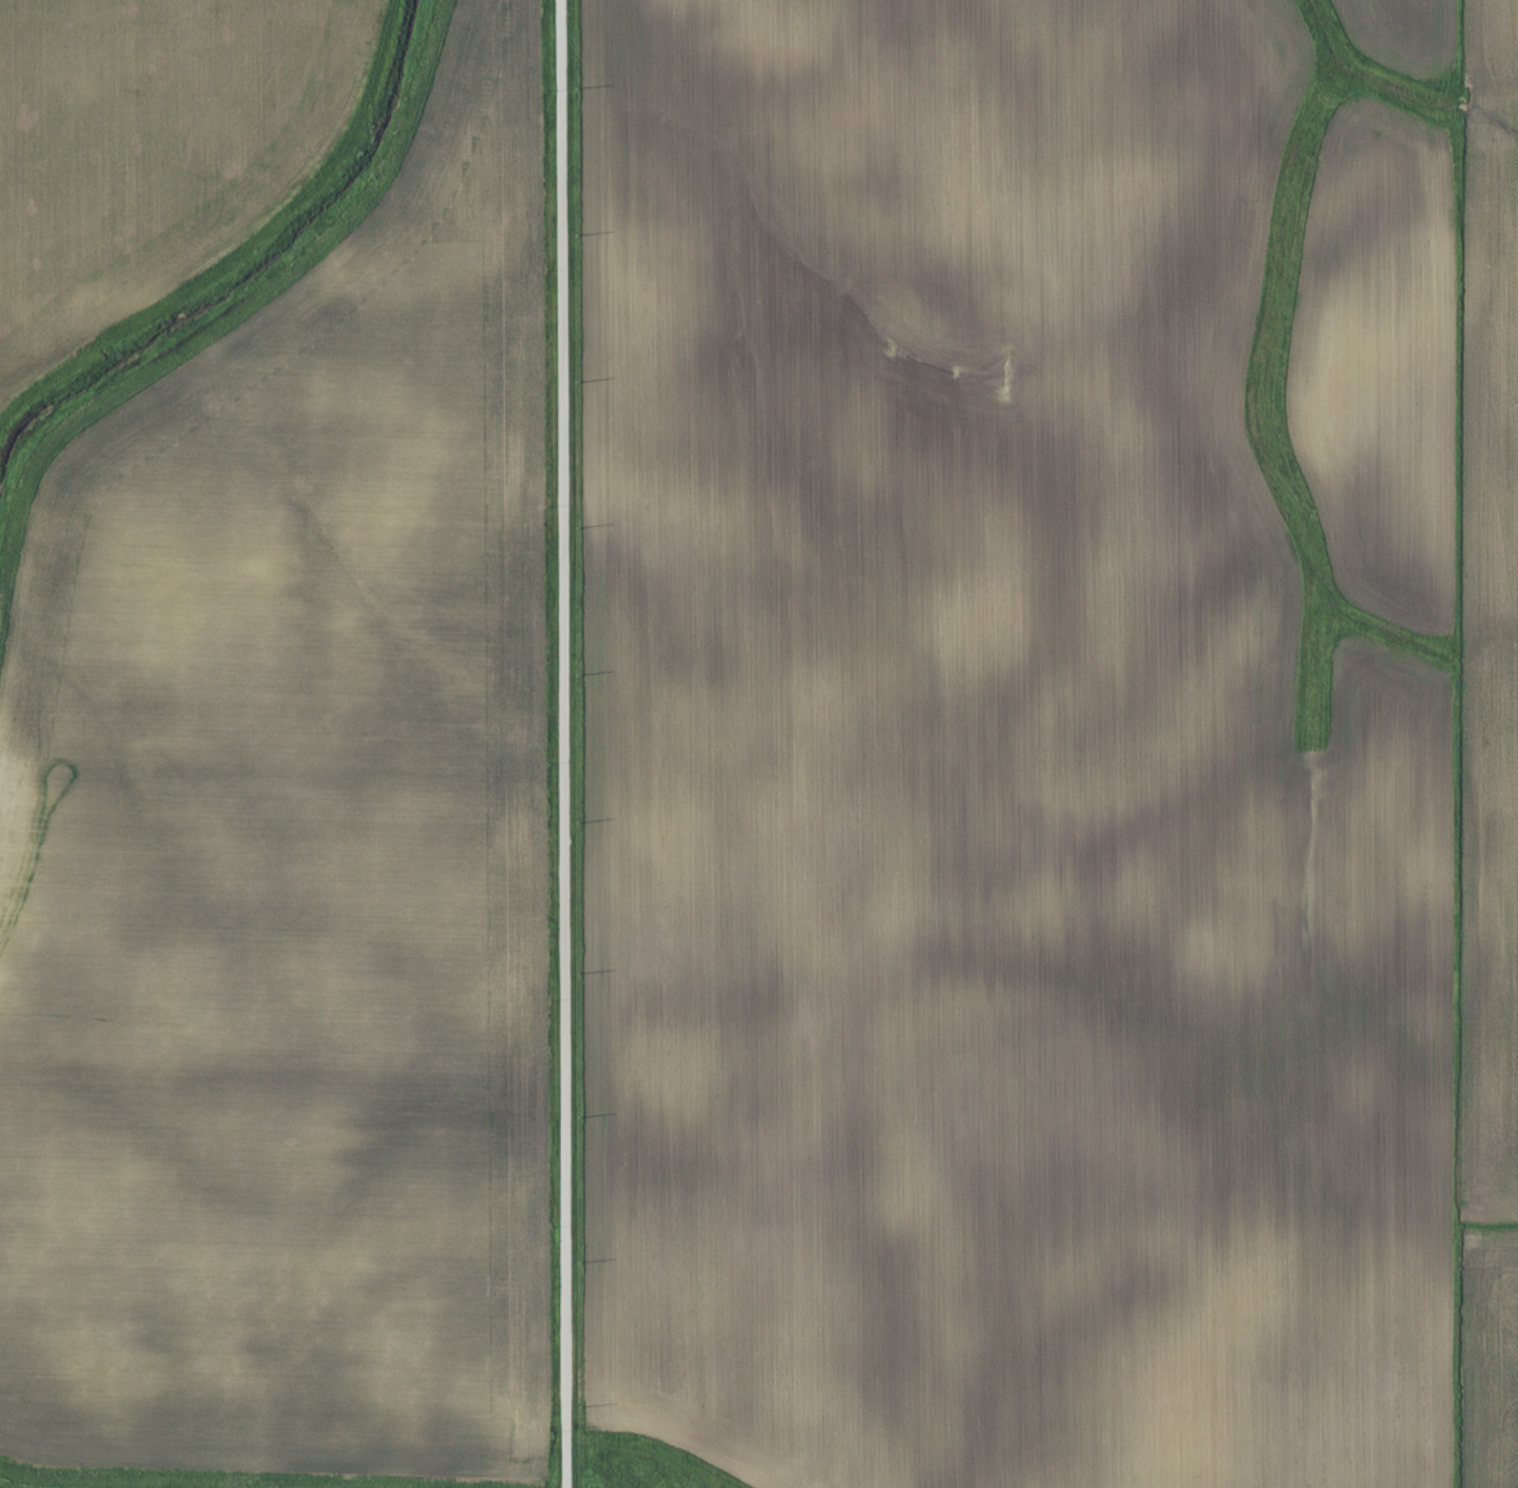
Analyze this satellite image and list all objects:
road: (560, 744)

